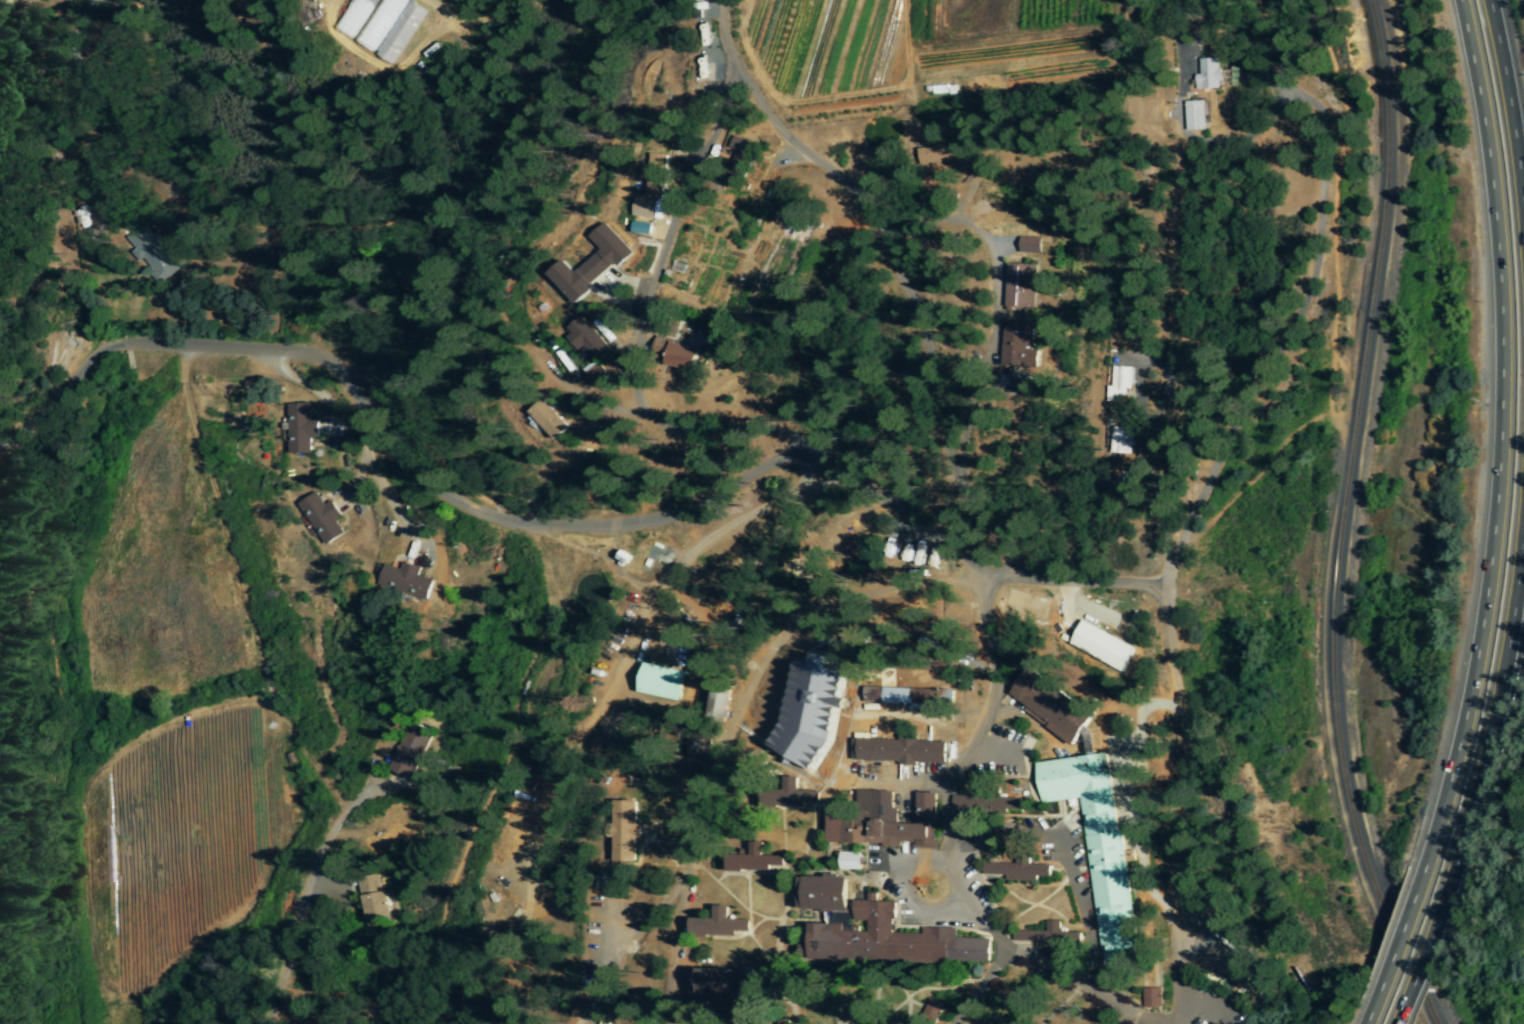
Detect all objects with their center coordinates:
road: (8, 3)
building: (353, 17)
road: (708, 30)
building: (400, 33)
building: (1208, 75)
road: (87, 97)
building: (1194, 116)
road: (1508, 116)
building: (739, 155)
building: (640, 228)
building: (1029, 245)
road: (947, 252)
building: (151, 253)
building: (588, 266)
road: (902, 271)
road: (647, 286)
building: (1019, 286)
road: (937, 314)
road: (1273, 321)
building: (1017, 347)
building: (590, 352)
building: (677, 355)
building: (1118, 384)
building: (547, 420)
building: (300, 430)
road: (385, 432)
road: (782, 432)
road: (1498, 436)
building: (1119, 441)
road: (831, 472)
building: (321, 518)
railway: (1343, 518)
road: (930, 532)
building: (404, 580)
road: (915, 583)
road: (1082, 587)
road: (764, 604)
road: (1162, 639)
building: (1100, 646)
building: (661, 681)
building: (901, 695)
building: (717, 703)
road: (1496, 704)
building: (808, 710)
building: (1048, 710)
building: (700, 747)
building: (409, 750)
building: (898, 751)
building: (787, 796)
building: (985, 803)
building: (881, 821)
building: (623, 835)
building: (1096, 842)
road: (1062, 853)
building: (849, 860)
building: (1016, 868)
road: (301, 895)
road: (903, 895)
building: (374, 900)
building: (717, 924)
building: (876, 931)
building: (1046, 936)
road: (1397, 946)
road: (1423, 958)
road: (1075, 970)
building: (720, 981)
building: (1150, 998)
building: (930, 1011)
road: (1115, 1015)

